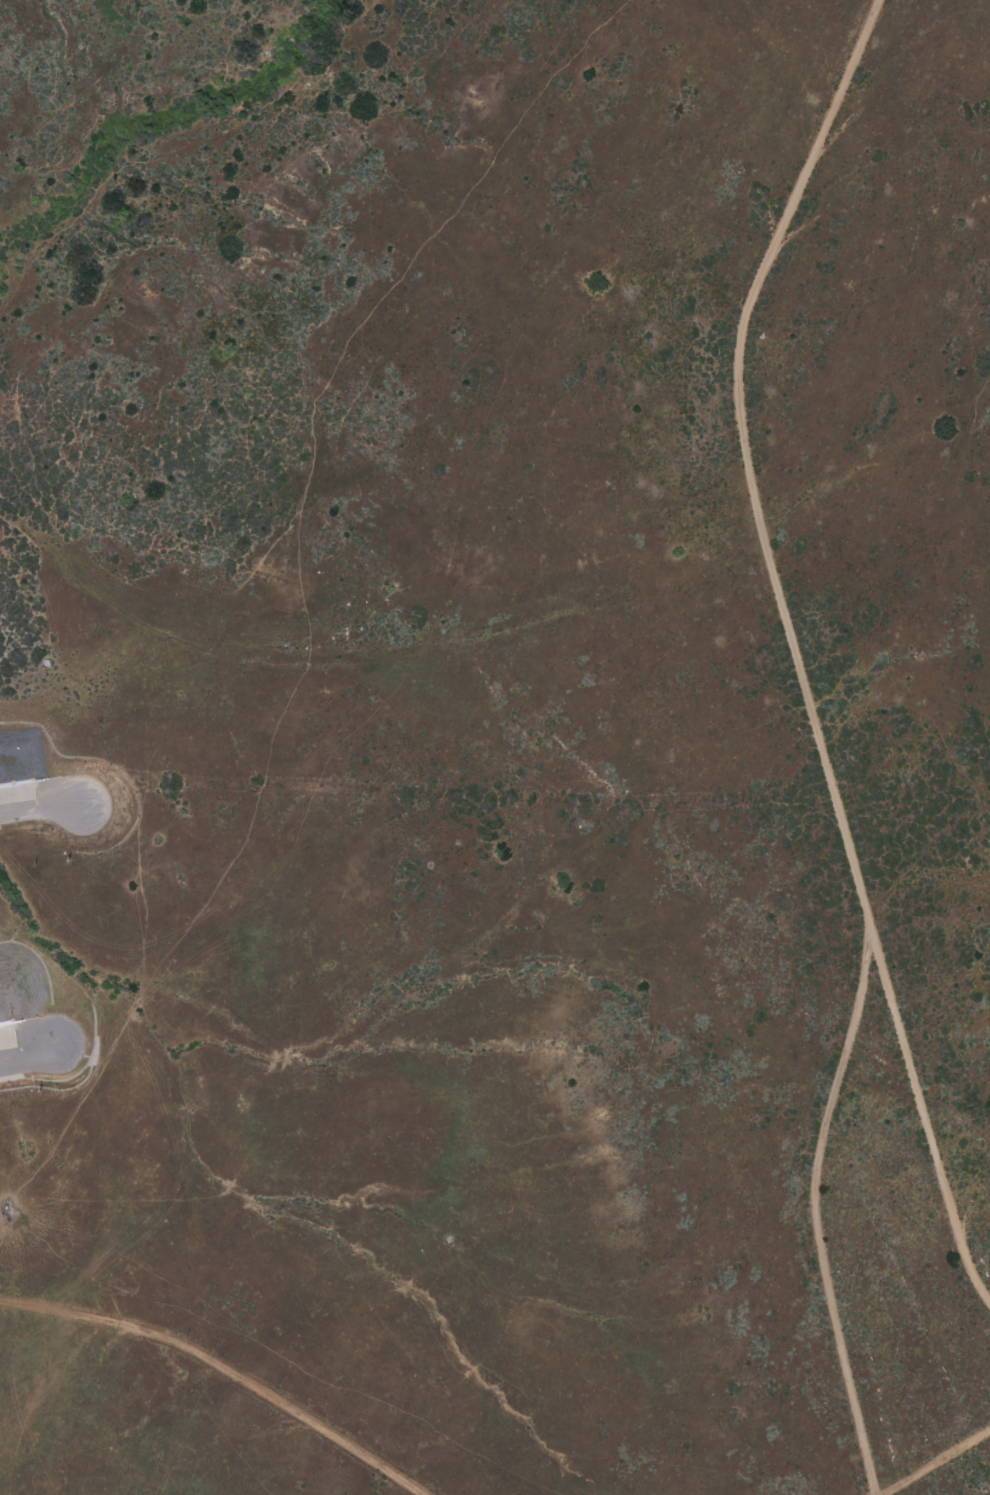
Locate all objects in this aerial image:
road: (43, 811)
road: (29, 1060)

